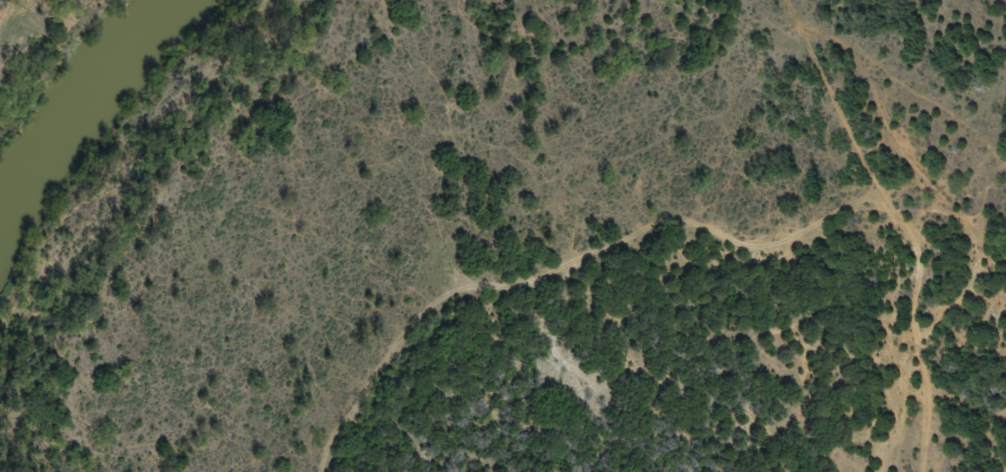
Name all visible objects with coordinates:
road: (917, 97)
road: (939, 359)

